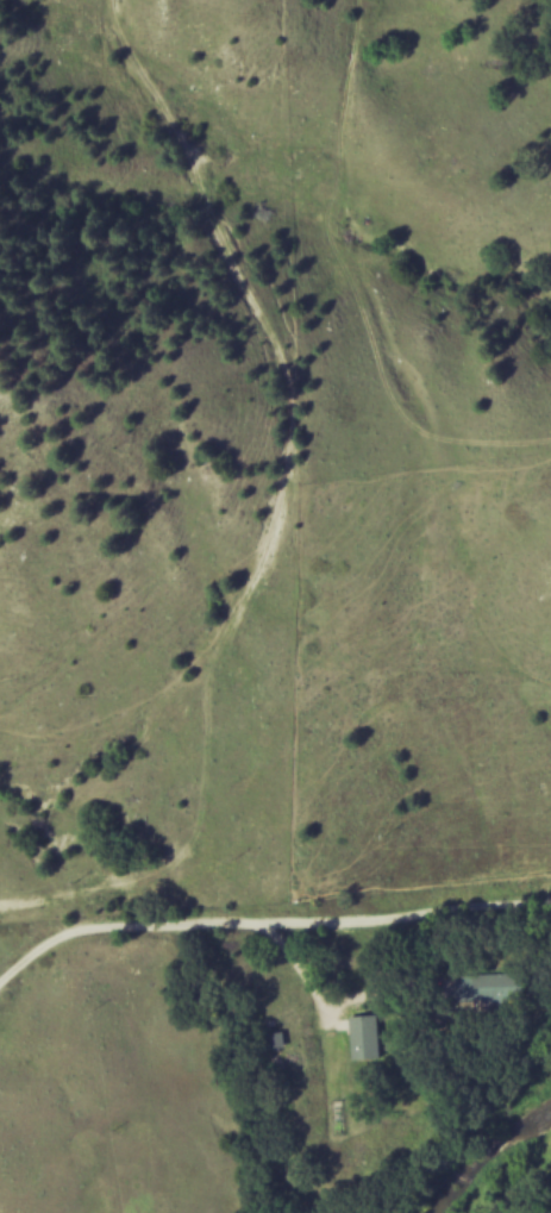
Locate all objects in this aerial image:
road: (268, 928)
building: (496, 984)
building: (371, 1036)
building: (282, 1038)

